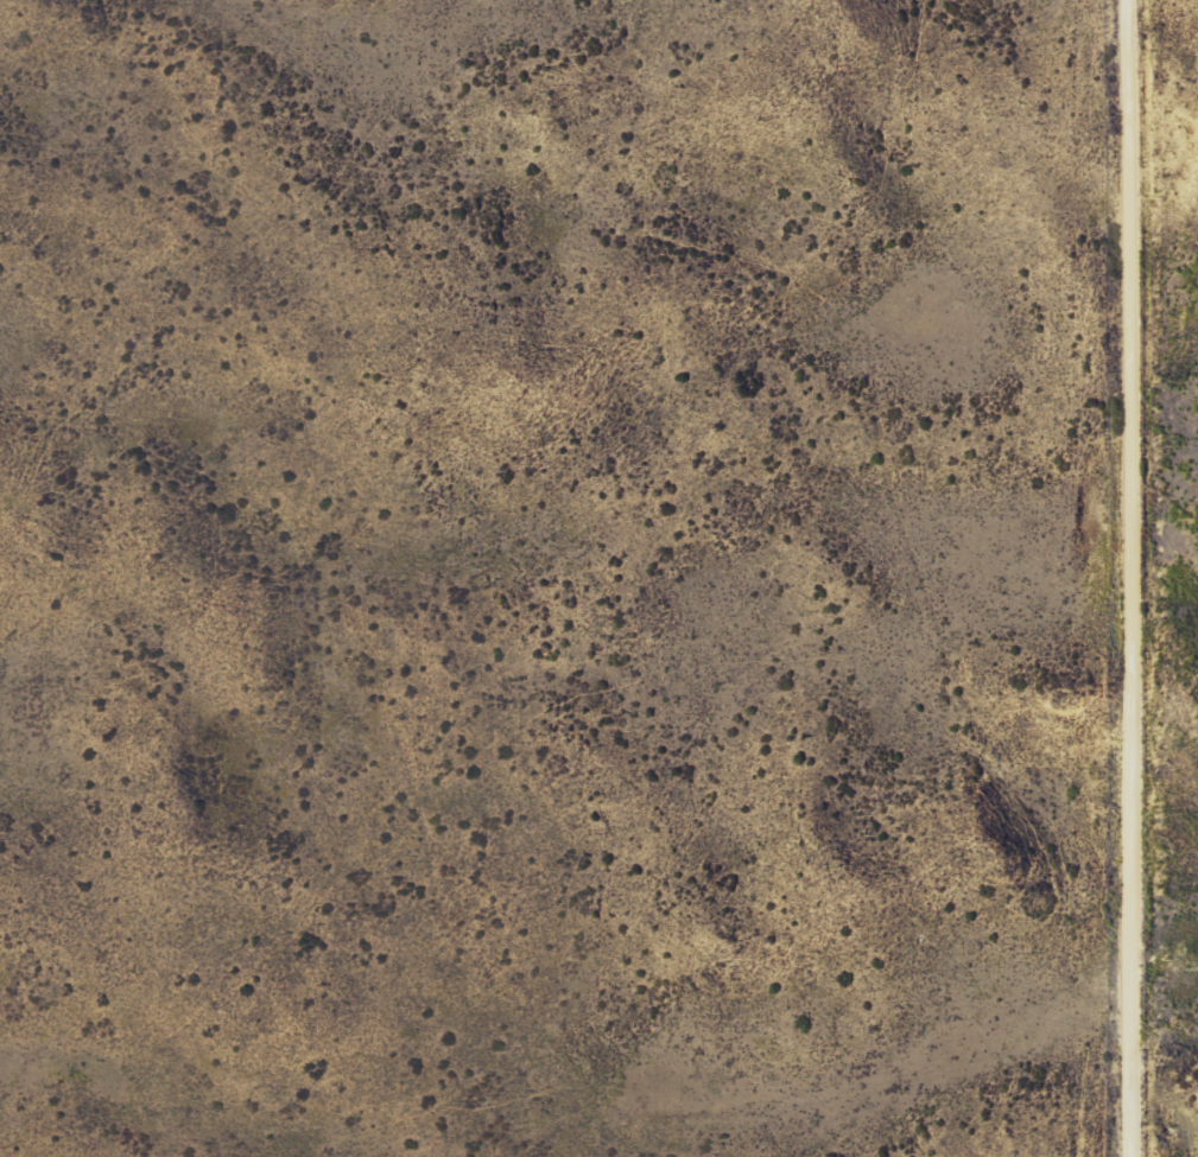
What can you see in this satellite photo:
road: (1133, 578)

